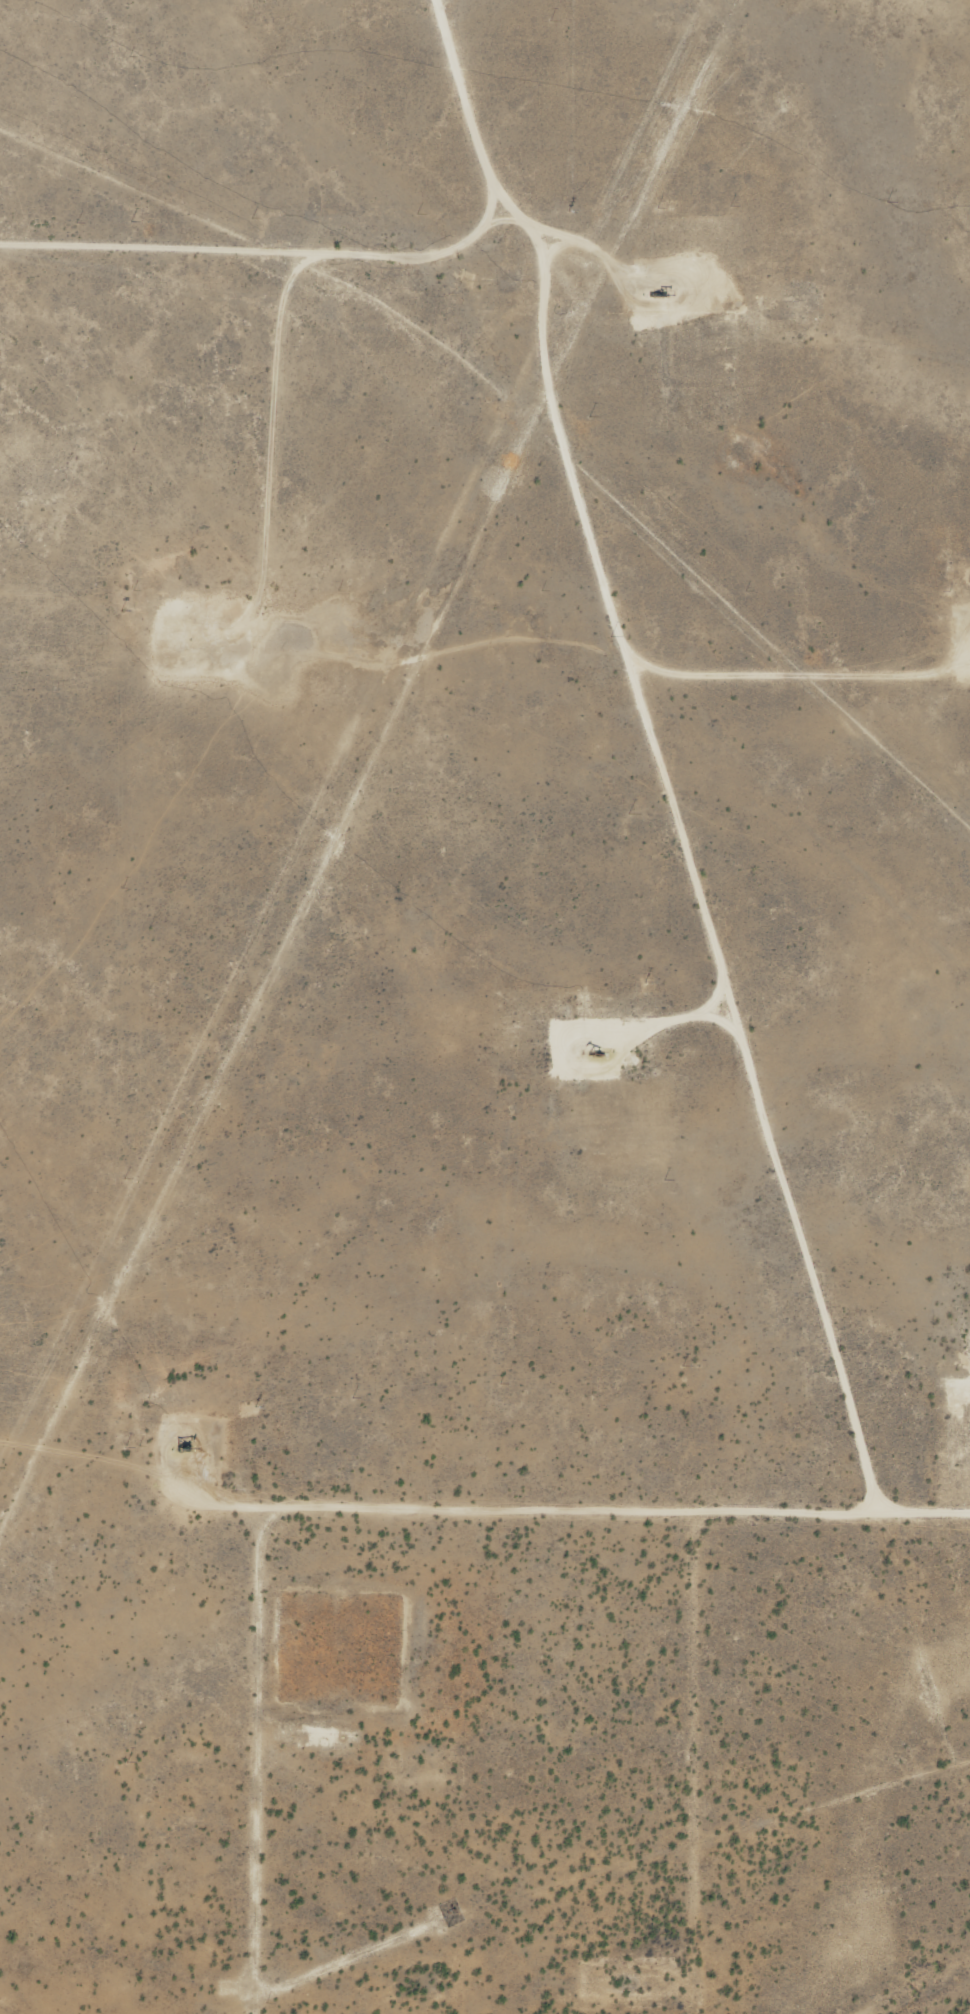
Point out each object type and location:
road: (291, 314)
road: (575, 457)
road: (369, 1506)
road: (698, 1743)

